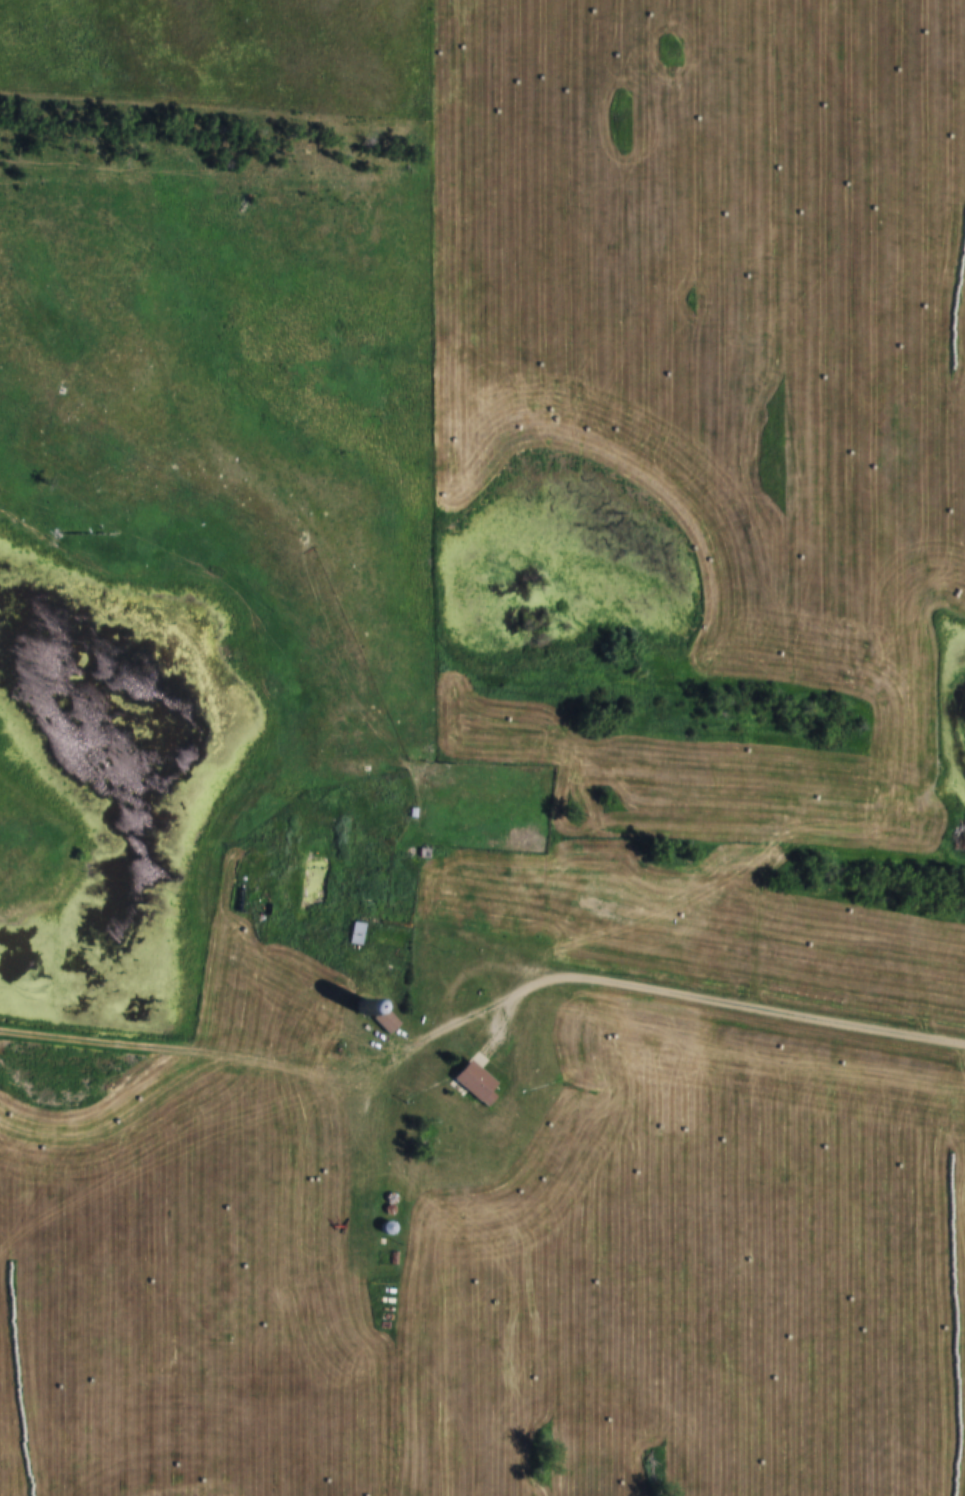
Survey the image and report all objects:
building: (887, 160)
road: (843, 850)
building: (255, 885)
building: (372, 896)
building: (356, 934)
building: (474, 1084)
building: (961, 1172)
building: (492, 1347)
building: (880, 1348)

